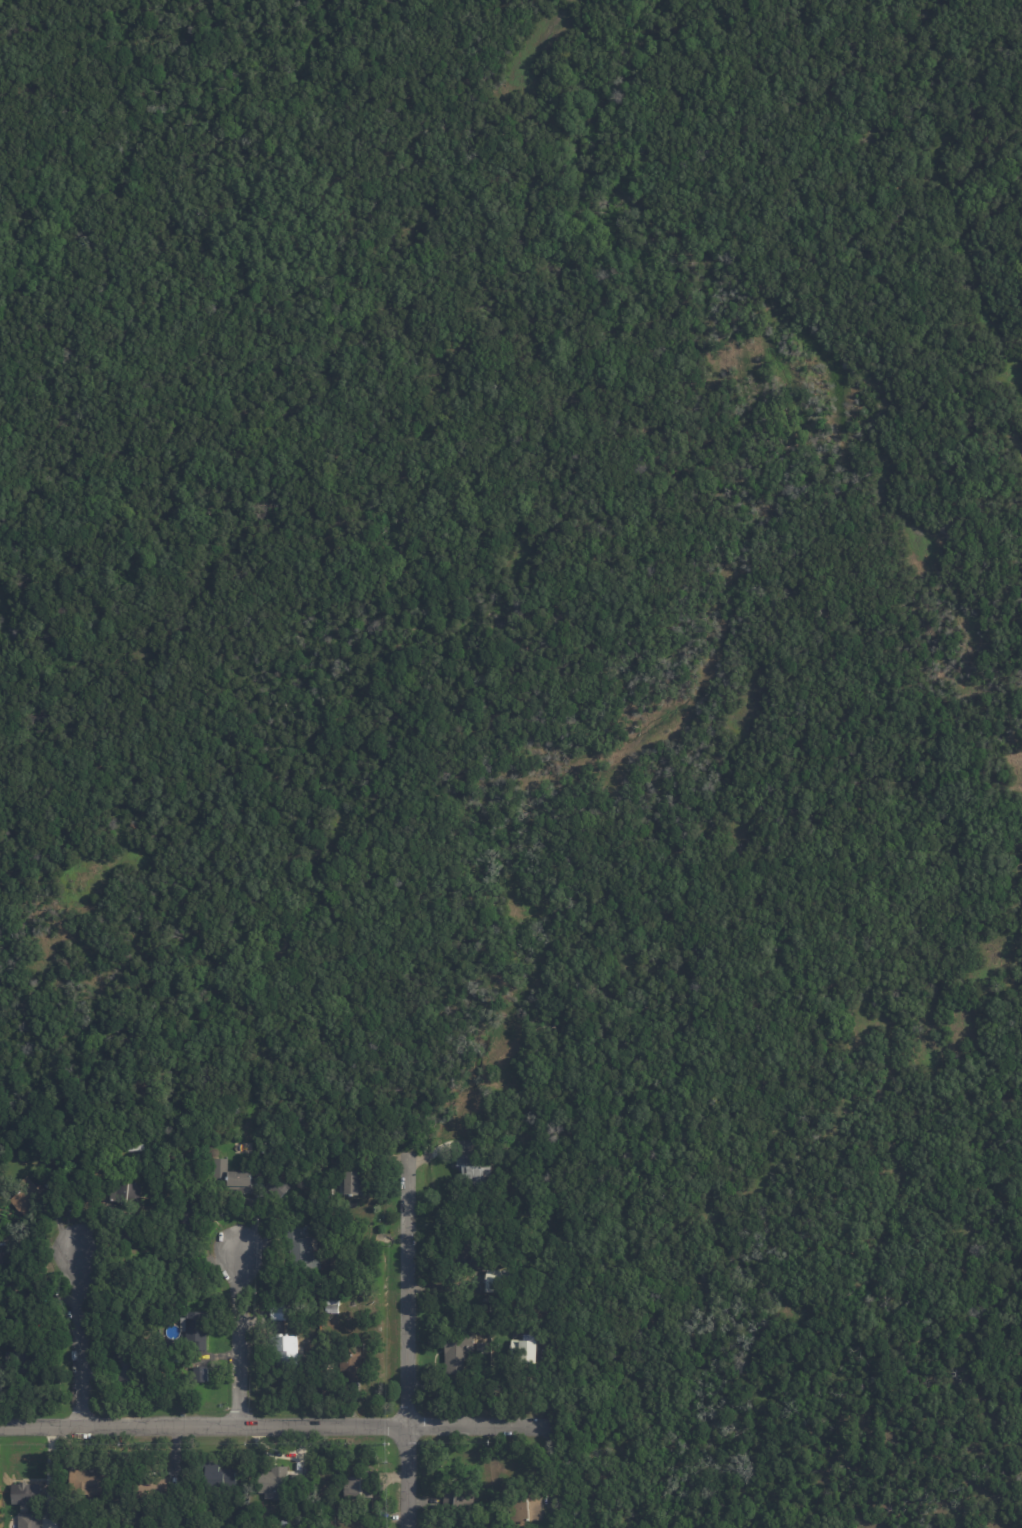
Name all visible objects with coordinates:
building: (54, 1150)
building: (474, 1169)
building: (247, 1181)
building: (349, 1181)
building: (357, 1184)
building: (129, 1193)
building: (29, 1198)
building: (195, 1212)
building: (303, 1252)
building: (5, 1266)
building: (495, 1280)
building: (461, 1283)
building: (336, 1302)
building: (16, 1309)
building: (335, 1310)
building: (282, 1312)
building: (198, 1328)
road: (80, 1334)
road: (239, 1334)
road: (406, 1336)
building: (32, 1345)
building: (288, 1345)
building: (527, 1349)
building: (459, 1350)
building: (352, 1358)
building: (130, 1370)
building: (203, 1375)
building: (27, 1381)
road: (275, 1421)
building: (222, 1474)
building: (96, 1479)
building: (277, 1480)
building: (356, 1484)
building: (153, 1486)
building: (453, 1491)
building: (28, 1492)
building: (550, 1504)
building: (526, 1507)
building: (34, 1520)
building: (285, 1524)

